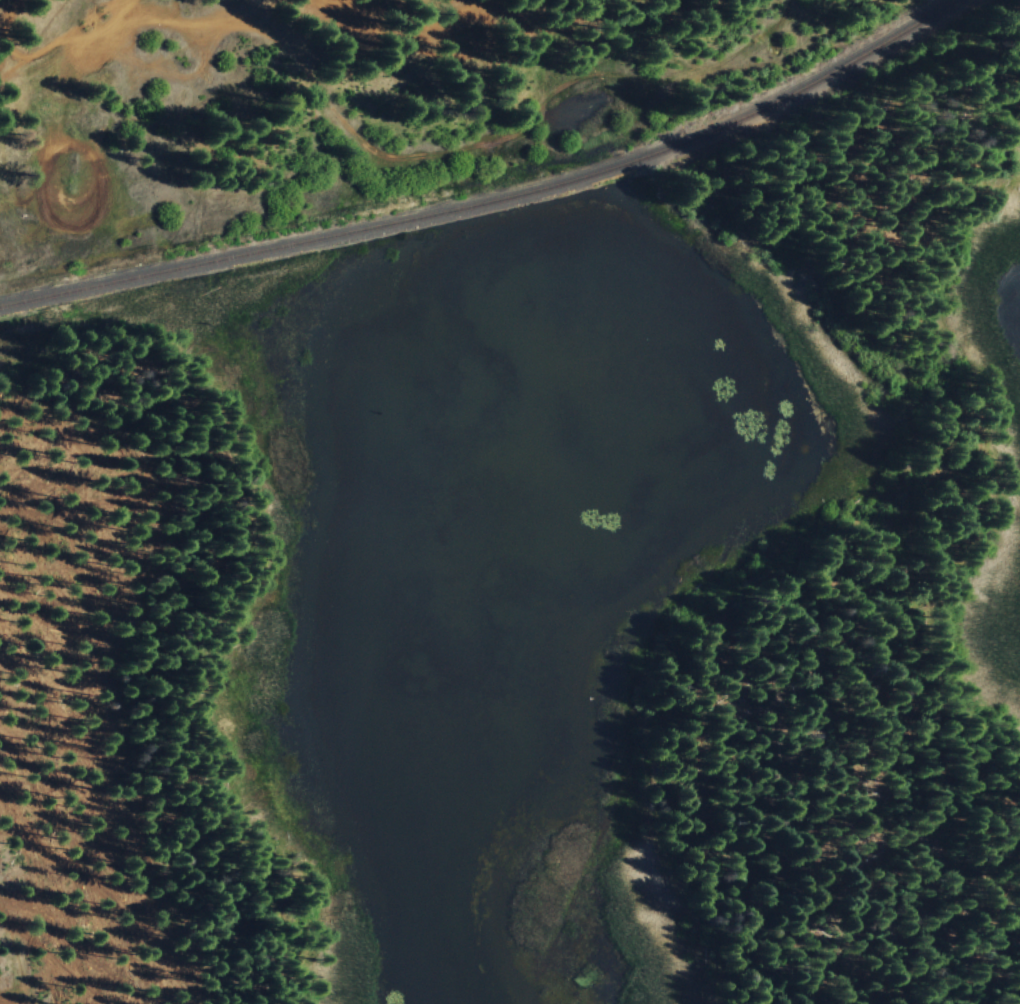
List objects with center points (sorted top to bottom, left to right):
railway: (496, 198)

